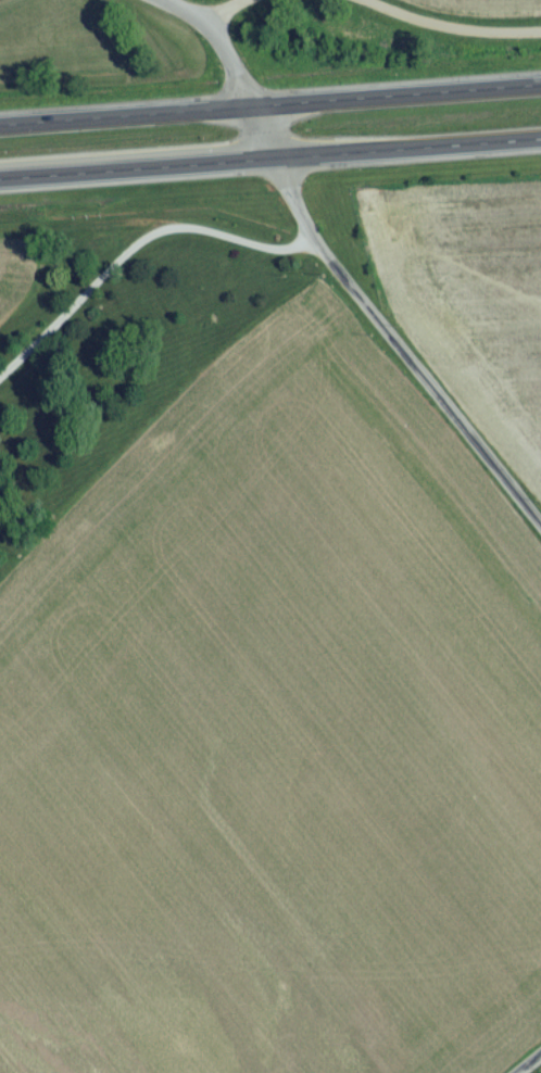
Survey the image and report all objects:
road: (180, 13)
road: (232, 13)
road: (444, 35)
road: (269, 105)
road: (269, 160)
road: (137, 253)
road: (348, 298)
road: (533, 1068)

